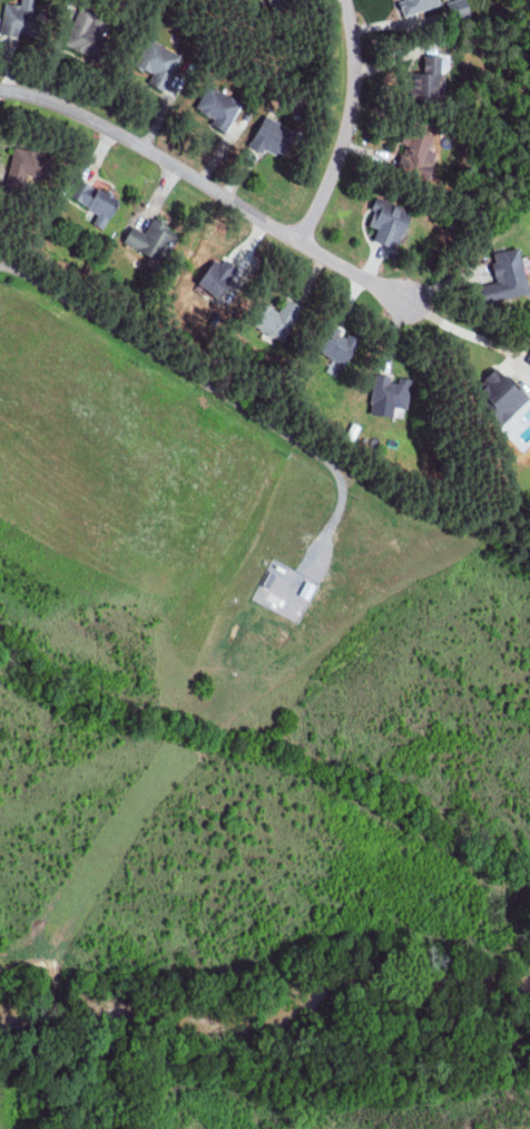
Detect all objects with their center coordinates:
building: (416, 6)
building: (22, 19)
building: (90, 27)
building: (160, 65)
building: (429, 72)
building: (218, 106)
road: (347, 127)
building: (276, 136)
road: (206, 185)
building: (97, 201)
building: (389, 222)
building: (148, 239)
building: (511, 271)
building: (226, 279)
building: (282, 320)
road: (471, 332)
building: (341, 347)
building: (529, 360)
building: (504, 391)
building: (390, 393)
building: (300, 602)
road: (48, 1018)

